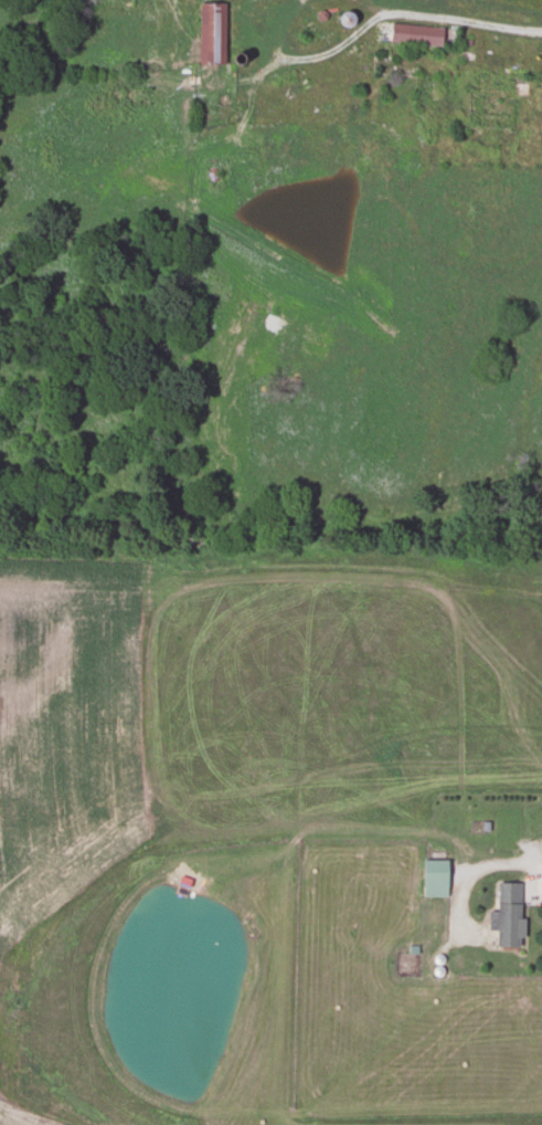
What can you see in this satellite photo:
road: (472, 22)
building: (211, 31)
building: (415, 34)
building: (434, 876)
building: (181, 885)
building: (506, 914)

